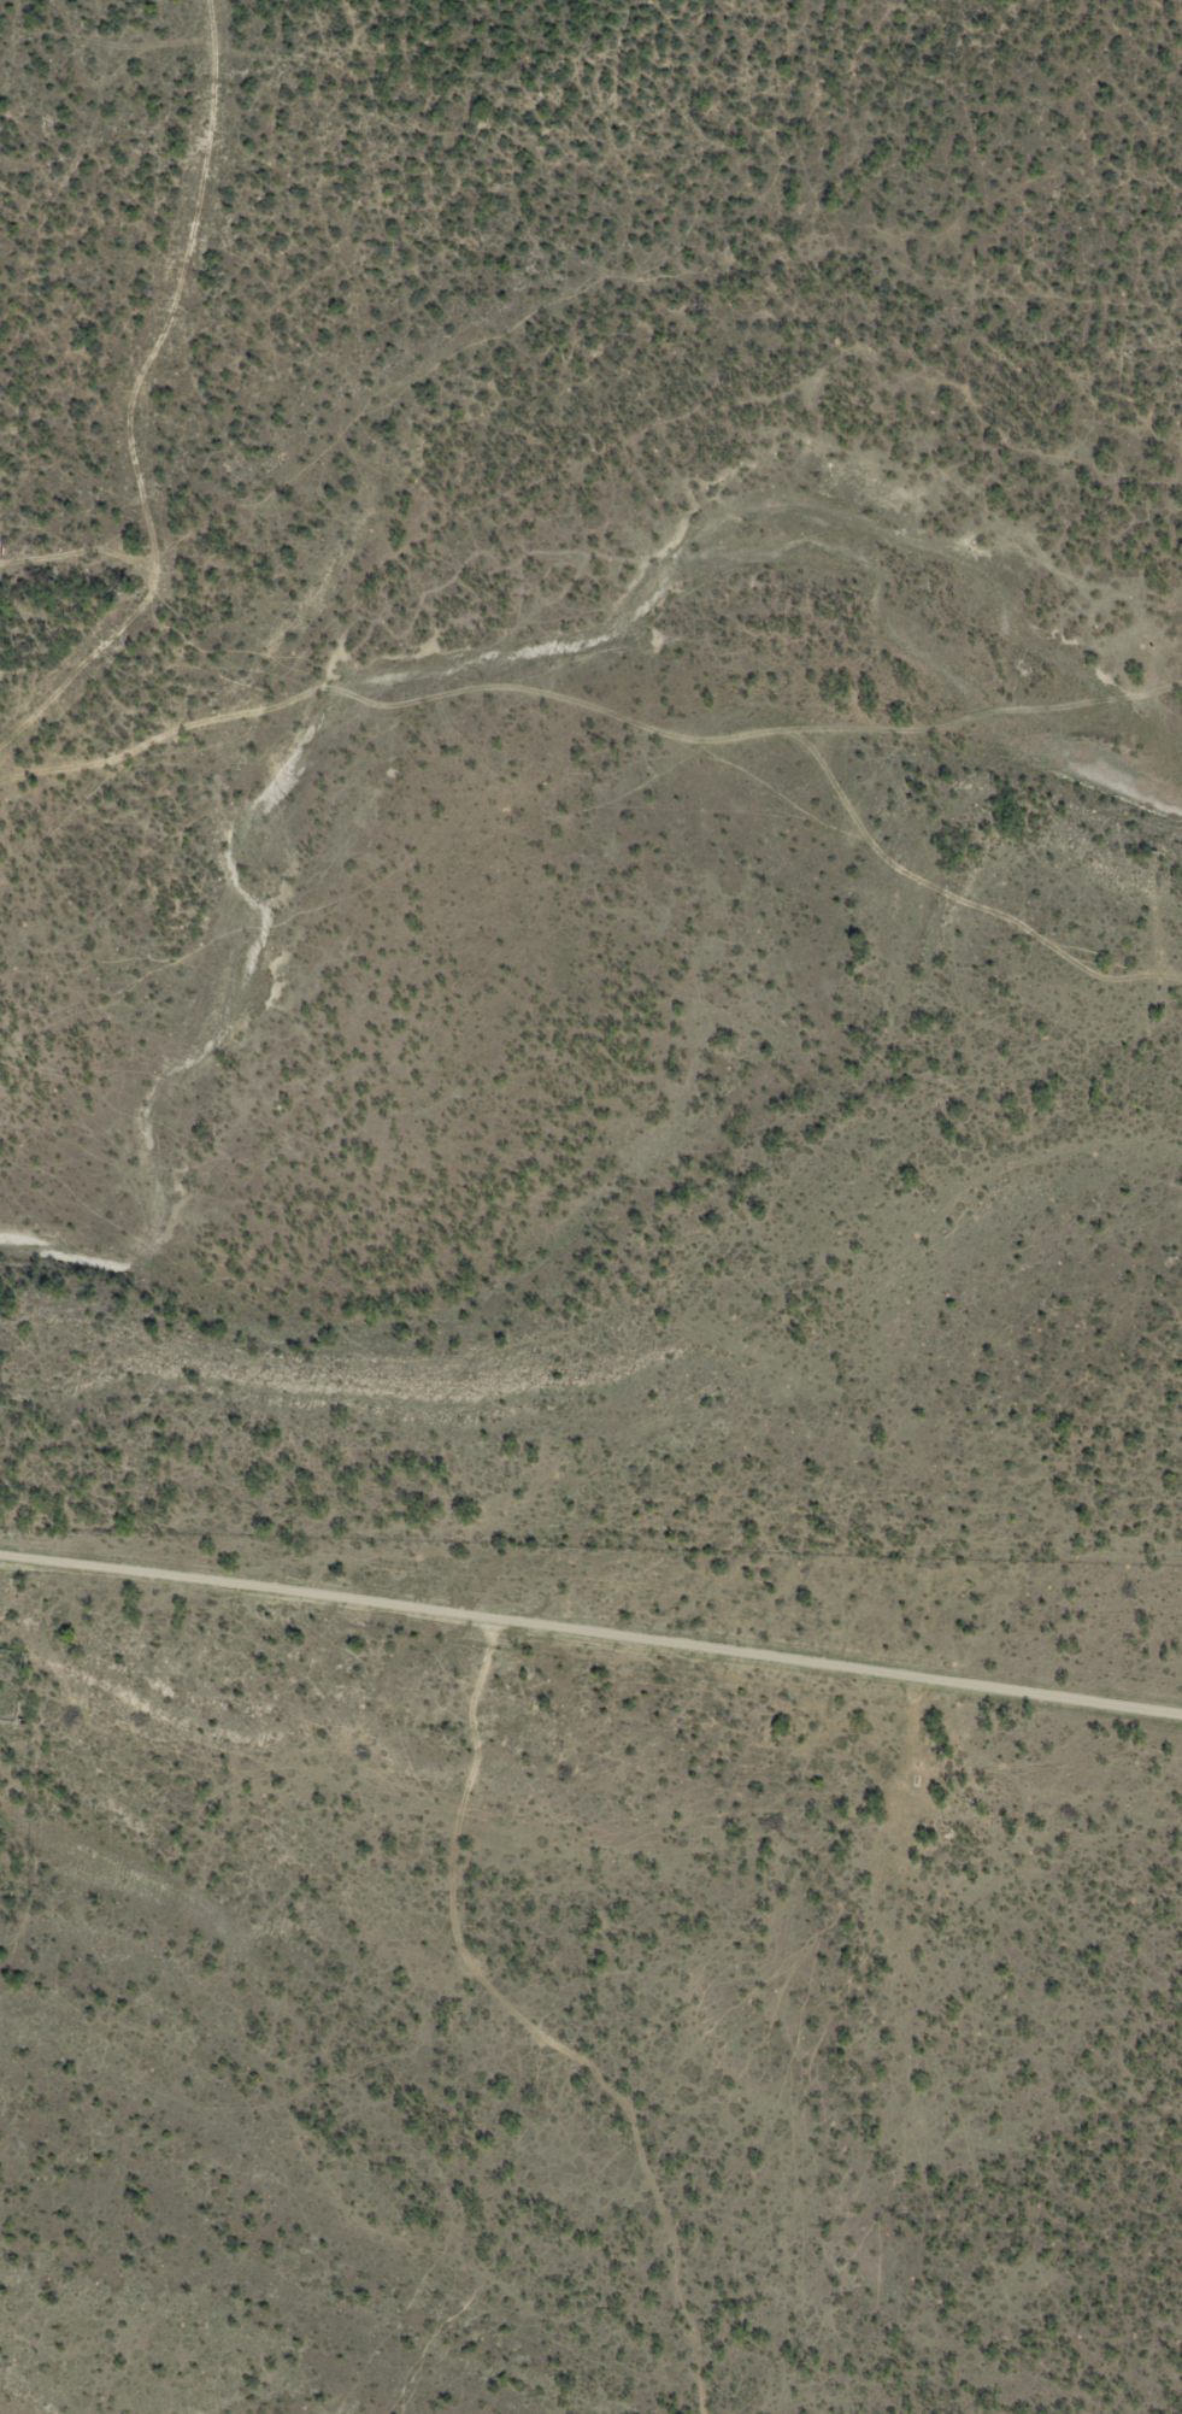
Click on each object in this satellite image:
road: (590, 1622)

